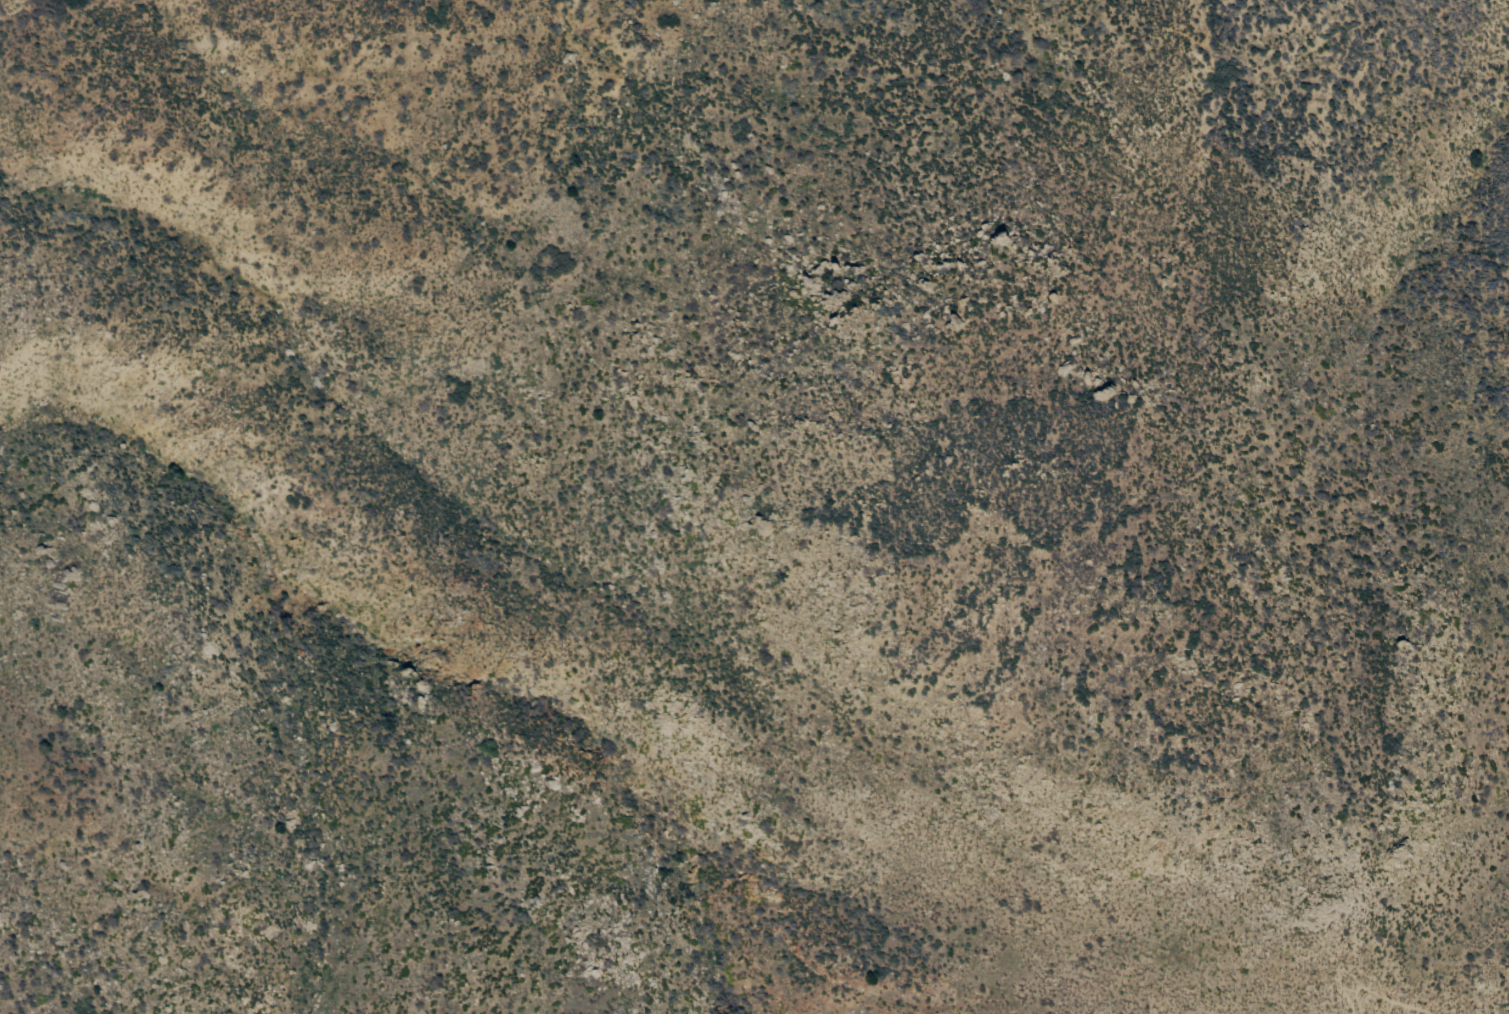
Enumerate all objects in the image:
road: (1365, 981)

